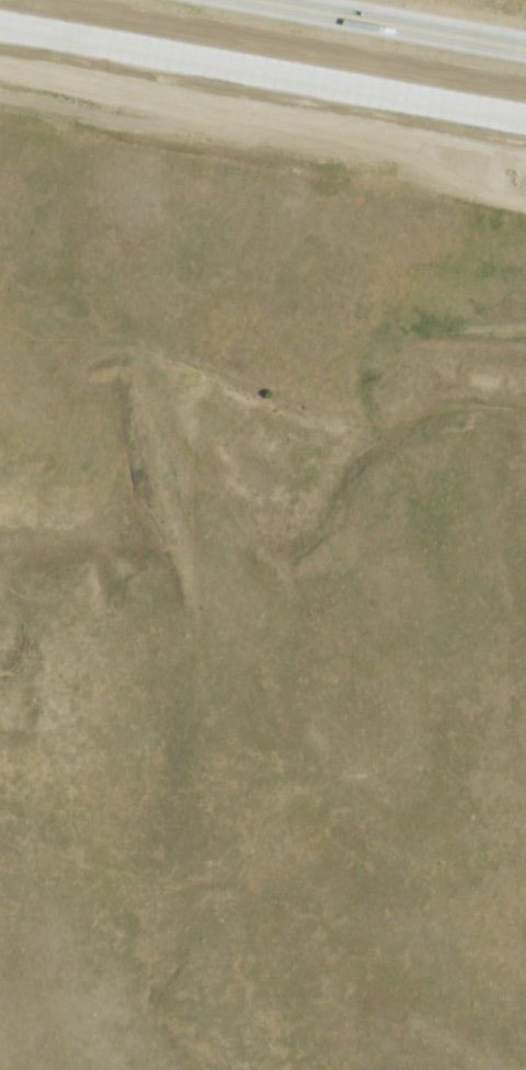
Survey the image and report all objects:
road: (388, 23)
road: (263, 70)

